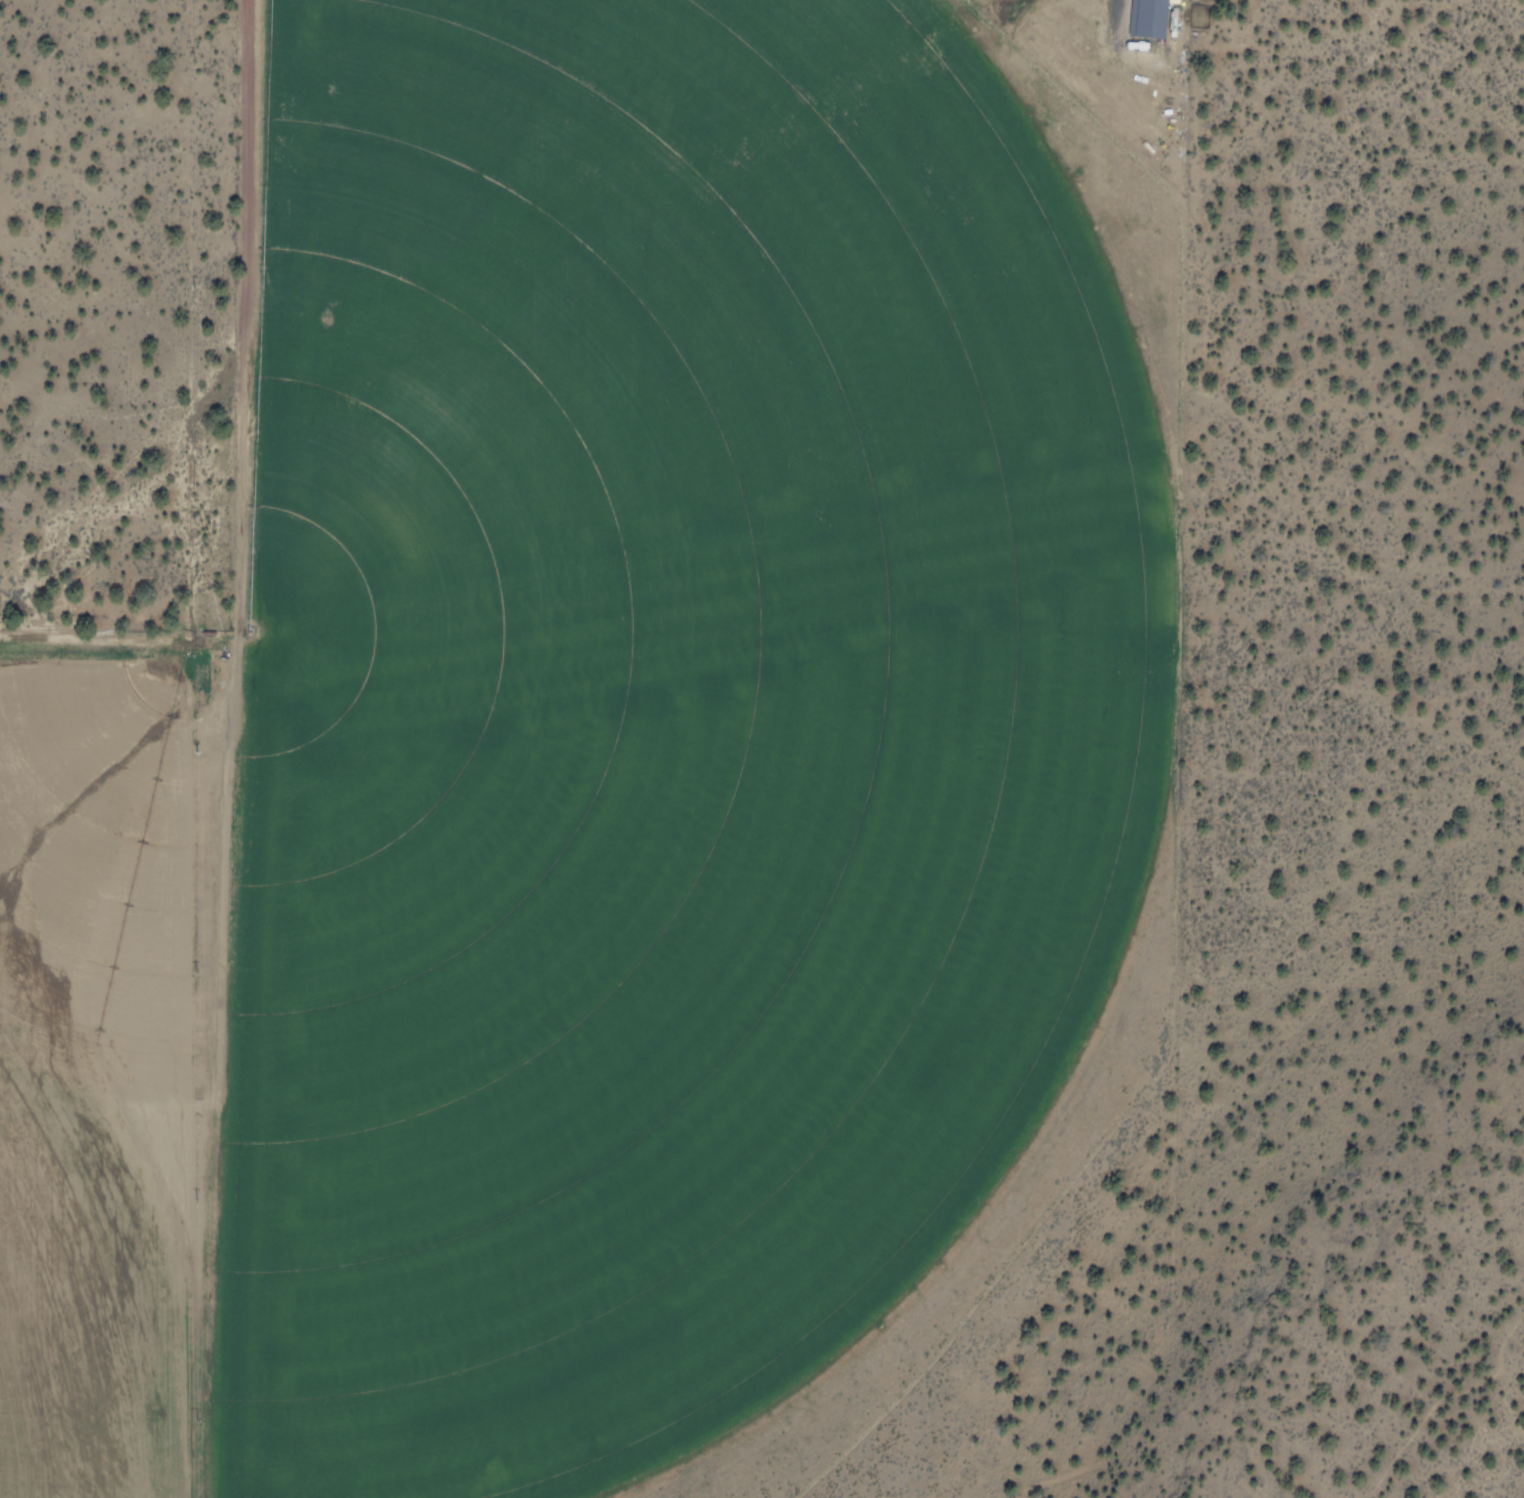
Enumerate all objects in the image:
building: (1148, 18)
crop: (607, 751)

